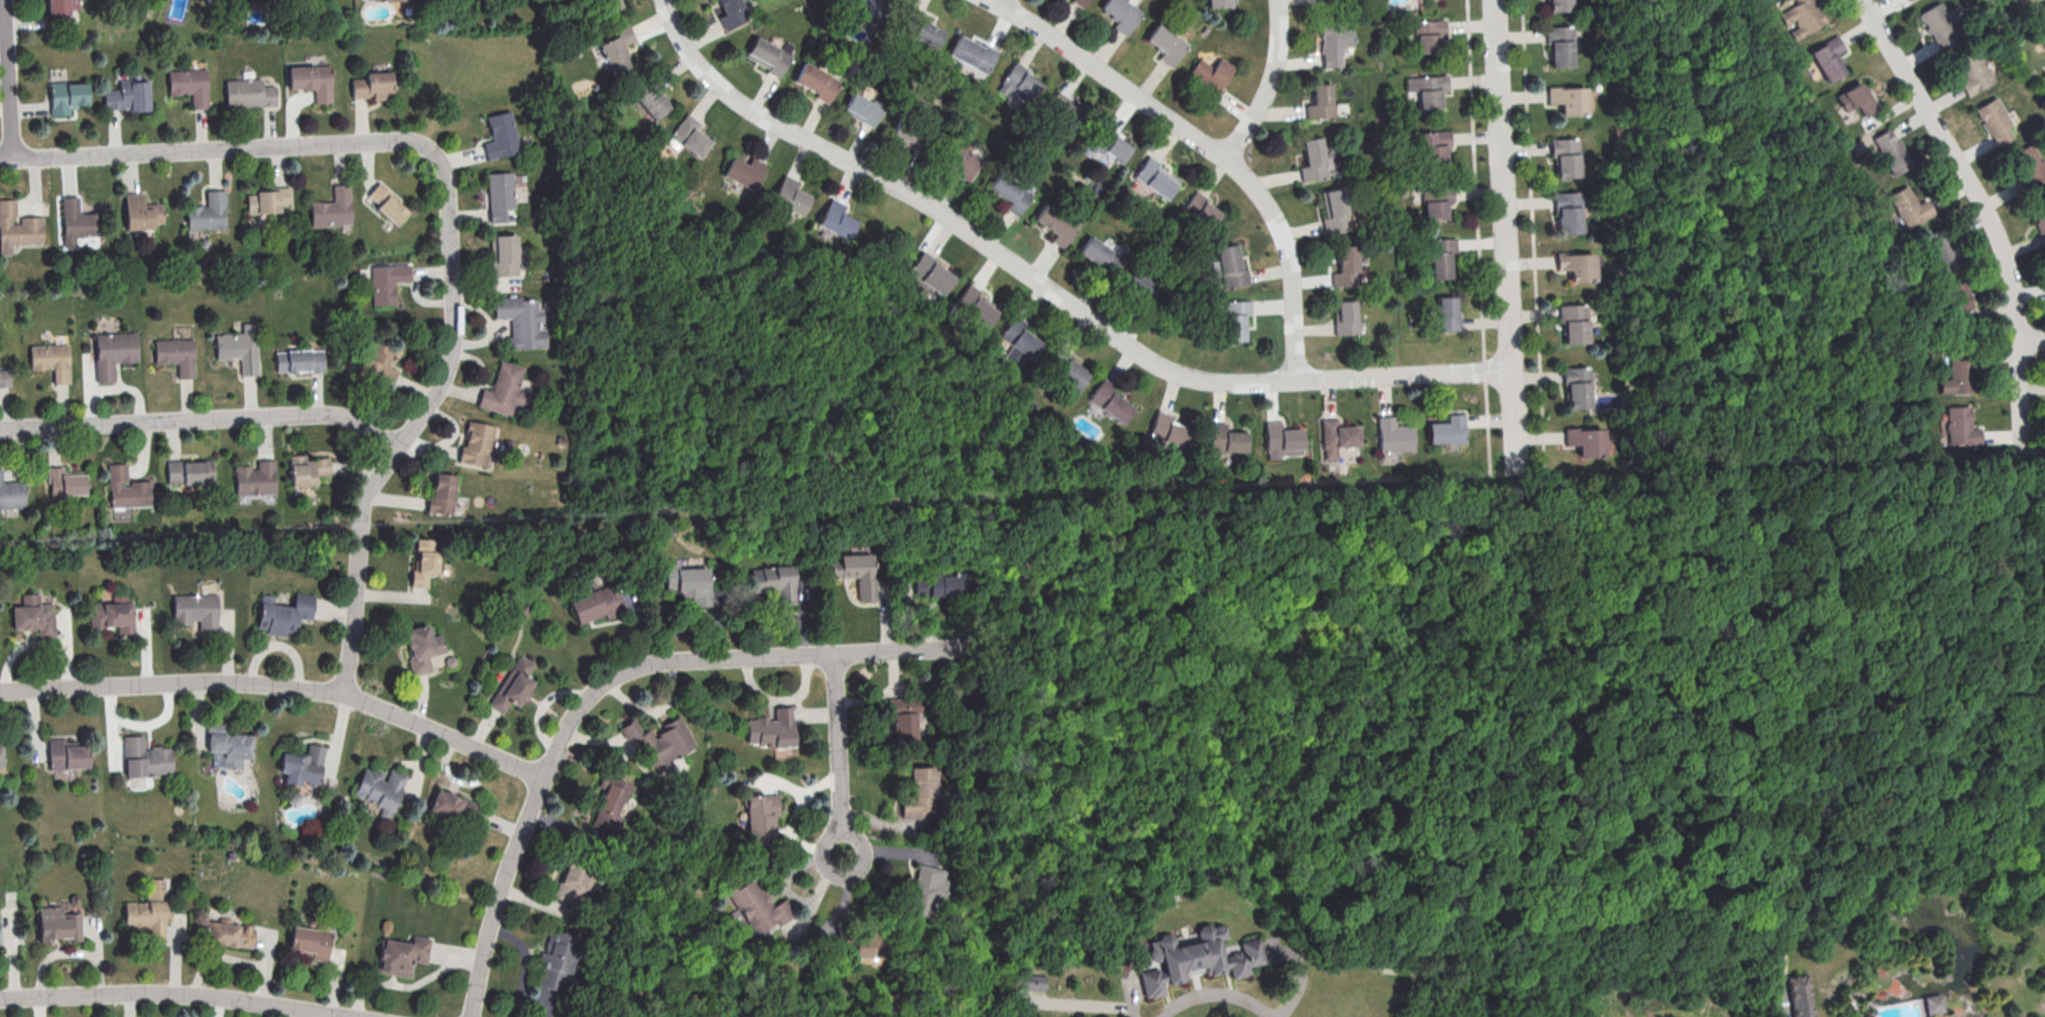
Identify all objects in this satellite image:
building: (379, 0)
building: (1348, 0)
building: (1907, 0)
road: (1002, 1)
building: (1334, 1)
building: (2015, 1)
building: (1078, 3)
building: (1217, 3)
building: (1557, 5)
building: (871, 8)
building: (60, 9)
building: (732, 12)
building: (1119, 14)
building: (1802, 14)
building: (2039, 18)
building: (912, 20)
building: (1940, 25)
building: (928, 33)
building: (1425, 35)
building: (1331, 41)
building: (1164, 44)
building: (1557, 44)
building: (618, 49)
building: (973, 53)
building: (770, 55)
building: (1827, 56)
building: (1972, 71)
road: (10, 79)
building: (311, 80)
building: (1206, 80)
building: (818, 81)
building: (1019, 81)
road: (1270, 84)
building: (374, 85)
building: (189, 86)
building: (1428, 90)
building: (249, 93)
building: (128, 95)
building: (67, 96)
building: (1570, 99)
building: (1320, 100)
building: (652, 101)
building: (1856, 105)
building: (864, 108)
building: (1065, 110)
building: (1995, 121)
building: (501, 135)
building: (691, 135)
building: (906, 137)
building: (1432, 145)
road: (1212, 146)
road: (213, 148)
building: (1110, 148)
building: (1889, 152)
building: (1563, 156)
building: (1314, 159)
building: (961, 161)
building: (2030, 164)
building: (744, 171)
building: (1156, 177)
building: (1011, 192)
building: (791, 195)
building: (501, 197)
building: (268, 201)
building: (1434, 202)
building: (387, 203)
building: (1908, 206)
building: (333, 208)
building: (1335, 209)
road: (1984, 209)
building: (1566, 210)
building: (142, 212)
building: (208, 212)
building: (1206, 212)
building: (837, 219)
building: (78, 220)
building: (1057, 224)
building: (17, 228)
road: (1506, 236)
building: (1101, 254)
building: (1438, 254)
building: (504, 255)
building: (1578, 265)
building: (1231, 266)
building: (1347, 266)
building: (932, 273)
building: (388, 282)
building: (1141, 283)
road: (1049, 287)
building: (1957, 301)
road: (452, 303)
building: (976, 304)
building: (1448, 313)
building: (1346, 317)
building: (1236, 319)
building: (523, 321)
building: (1572, 323)
building: (1022, 338)
road: (2032, 341)
building: (239, 350)
building: (112, 352)
building: (175, 355)
building: (299, 360)
building: (51, 361)
building: (379, 361)
building: (1959, 372)
building: (1073, 373)
building: (5, 377)
building: (1574, 385)
building: (506, 388)
building: (1111, 400)
road: (204, 418)
building: (1959, 426)
building: (1169, 429)
building: (1448, 429)
building: (1282, 438)
building: (1227, 439)
building: (1586, 440)
building: (1340, 441)
building: (482, 444)
building: (307, 469)
building: (190, 471)
road: (1516, 472)
building: (256, 478)
building: (65, 482)
building: (128, 491)
road: (2027, 491)
building: (11, 494)
building: (446, 495)
road: (357, 567)
road: (1356, 567)
building: (857, 572)
building: (775, 581)
building: (689, 582)
building: (945, 582)
building: (598, 602)
building: (196, 610)
building: (283, 613)
building: (113, 614)
building: (34, 615)
building: (425, 649)
road: (610, 680)
road: (281, 684)
building: (513, 685)
building: (904, 716)
building: (773, 731)
building: (661, 741)
building: (227, 746)
building: (67, 753)
building: (1, 754)
road: (839, 757)
building: (145, 758)
building: (302, 765)
building: (380, 788)
building: (920, 793)
building: (610, 800)
building: (452, 805)
road: (1637, 808)
building: (761, 817)
road: (1808, 818)
road: (791, 821)
building: (575, 883)
building: (926, 890)
building: (760, 907)
building: (149, 910)
building: (58, 924)
building: (229, 933)
road: (1760, 939)
building: (311, 941)
building: (868, 946)
building: (556, 950)
building: (402, 955)
building: (1200, 959)
road: (1763, 962)
road: (177, 992)
building: (1799, 995)
road: (1133, 996)
road: (1219, 996)
road: (1771, 1001)
road: (1070, 1003)
building: (1933, 1003)
building: (1593, 1016)

